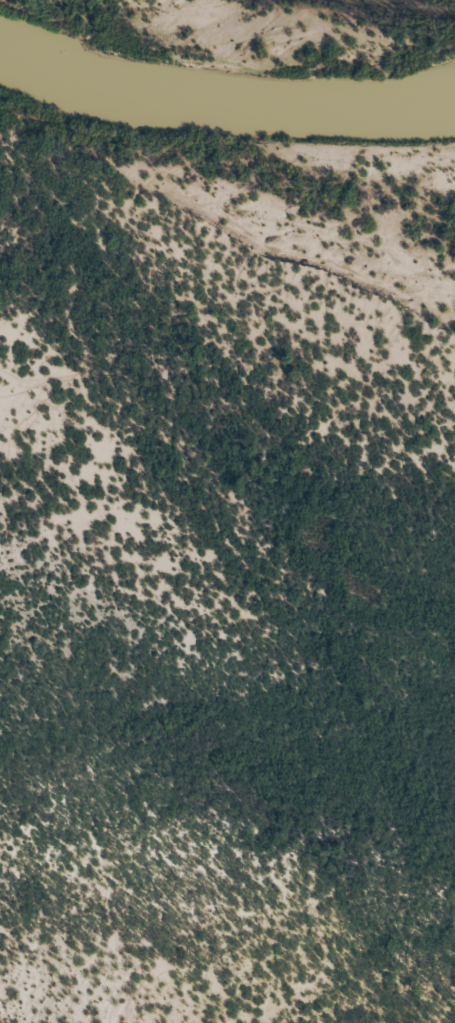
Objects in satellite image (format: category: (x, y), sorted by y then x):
river: (340, 24)
river: (79, 38)

